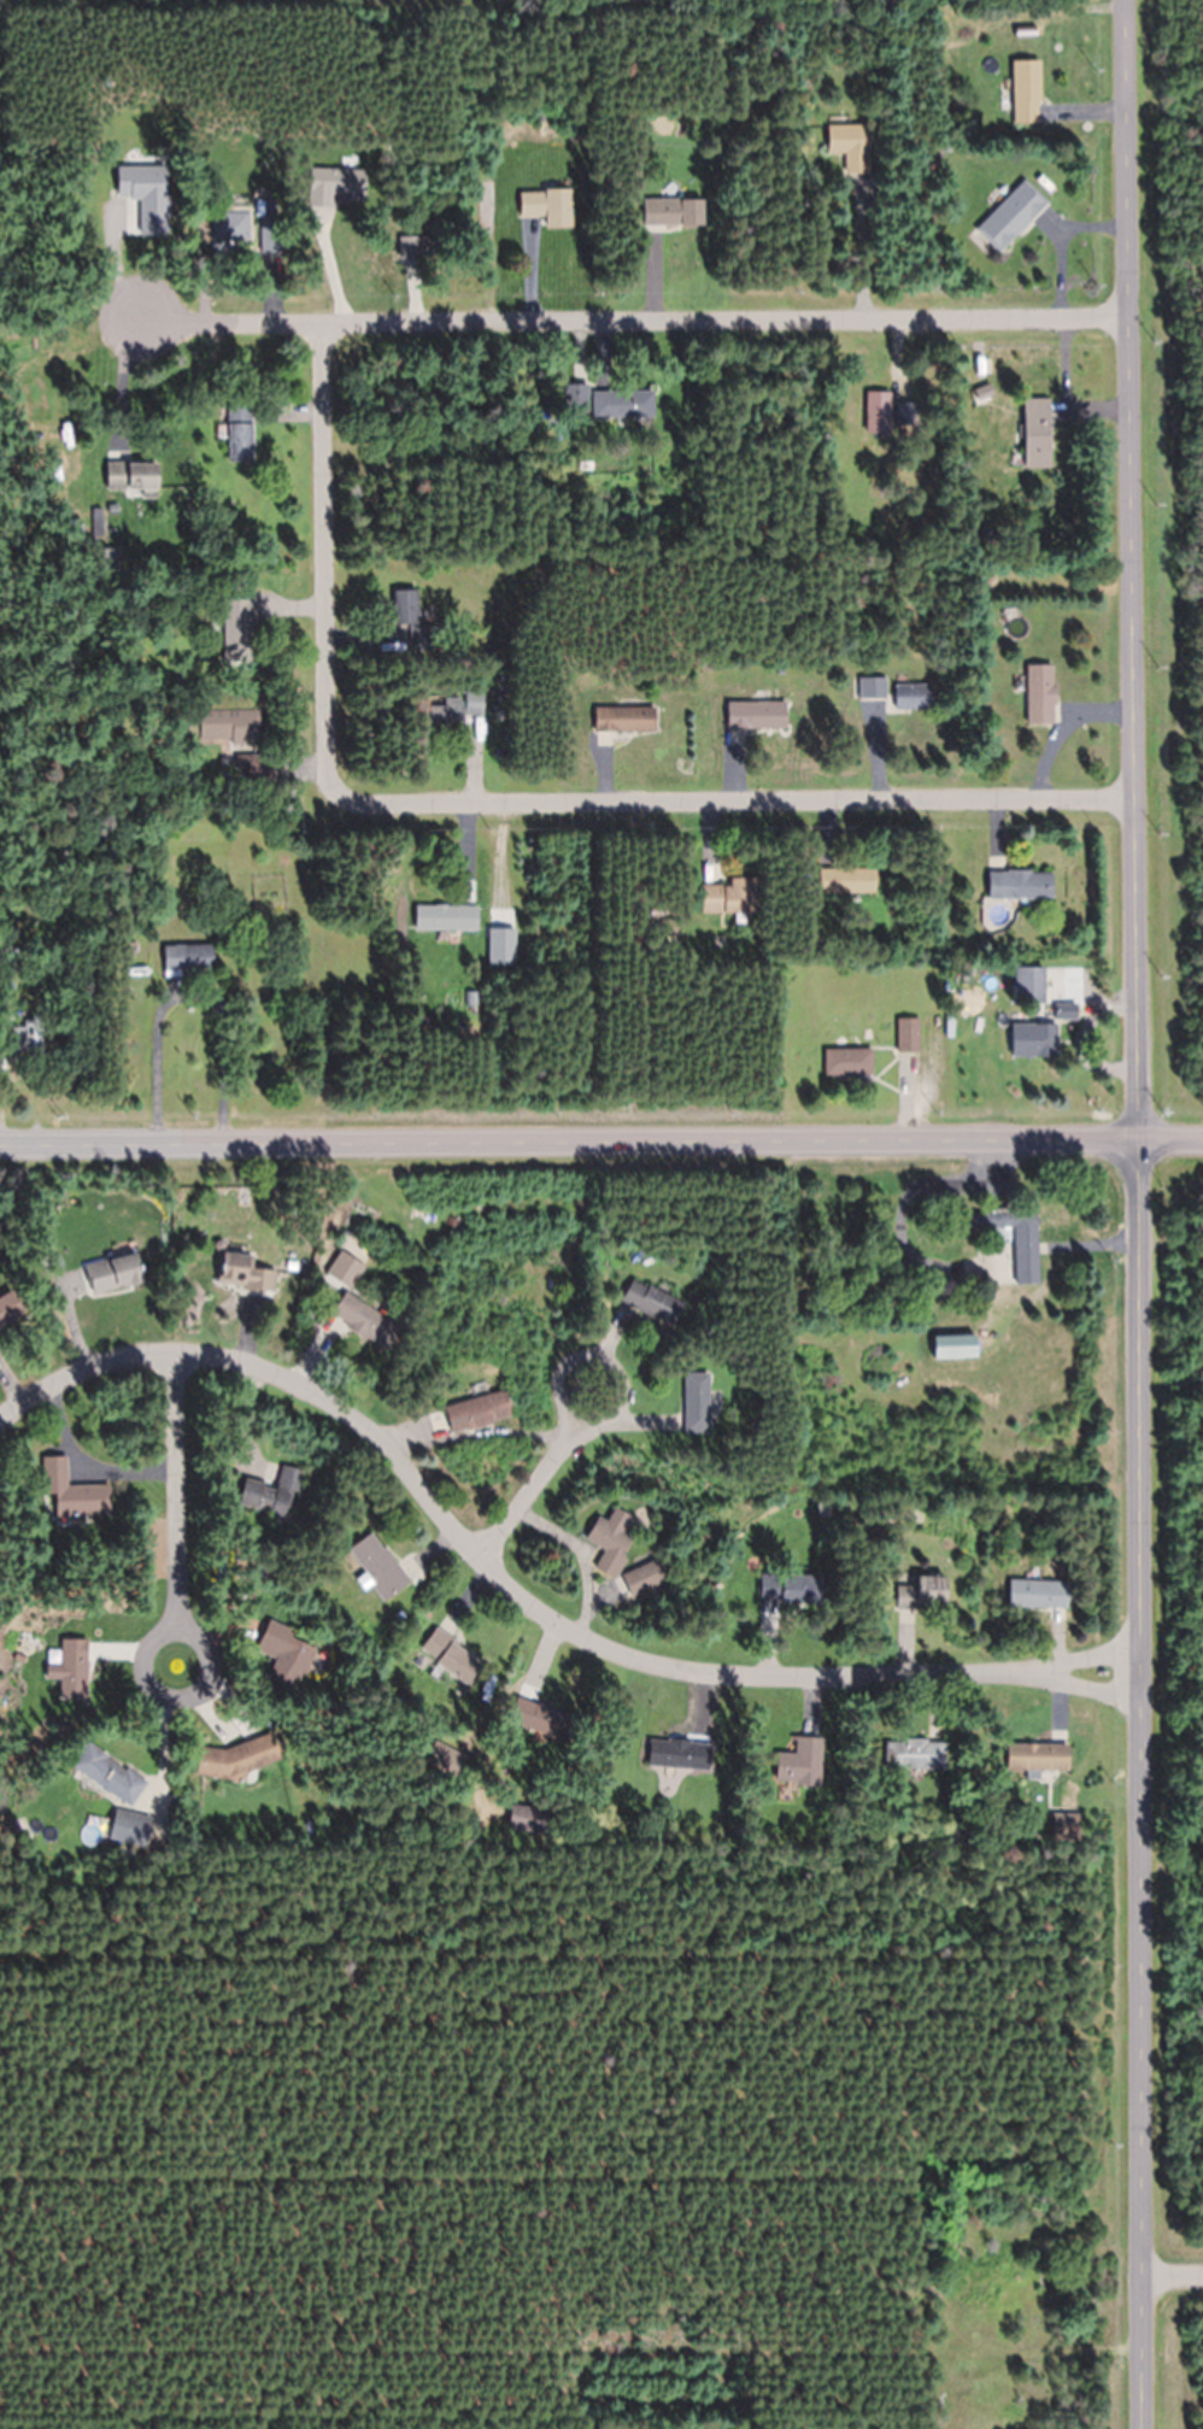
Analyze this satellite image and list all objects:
building: (1026, 90)
building: (850, 146)
building: (334, 184)
building: (547, 206)
building: (674, 212)
building: (1011, 216)
building: (230, 230)
building: (270, 234)
building: (415, 247)
road: (635, 323)
building: (574, 400)
building: (623, 404)
building: (904, 411)
building: (878, 413)
building: (240, 432)
building: (1037, 434)
building: (131, 477)
road: (323, 562)
building: (411, 618)
building: (237, 627)
building: (875, 688)
building: (1040, 694)
building: (912, 698)
building: (456, 711)
building: (756, 716)
building: (624, 720)
building: (229, 727)
road: (732, 804)
building: (846, 881)
building: (1020, 885)
building: (728, 898)
building: (446, 919)
building: (188, 958)
building: (1029, 986)
building: (1066, 1011)
building: (908, 1037)
building: (18, 1040)
building: (1044, 1040)
building: (847, 1062)
road: (601, 1144)
road: (1143, 1214)
building: (1026, 1260)
building: (245, 1271)
building: (112, 1272)
building: (653, 1302)
building: (8, 1309)
building: (364, 1320)
building: (953, 1346)
building: (698, 1404)
building: (479, 1410)
road: (606, 1424)
building: (74, 1491)
building: (270, 1495)
road: (172, 1509)
building: (612, 1542)
building: (380, 1568)
building: (645, 1577)
building: (792, 1588)
building: (1037, 1592)
building: (923, 1594)
road: (520, 1596)
building: (283, 1655)
building: (452, 1655)
building: (69, 1667)
building: (541, 1718)
building: (685, 1754)
building: (914, 1755)
building: (1039, 1758)
building: (235, 1759)
building: (445, 1760)
building: (799, 1764)
building: (107, 1773)
building: (527, 1819)
building: (128, 1827)
building: (1064, 1827)
road: (1173, 2275)

